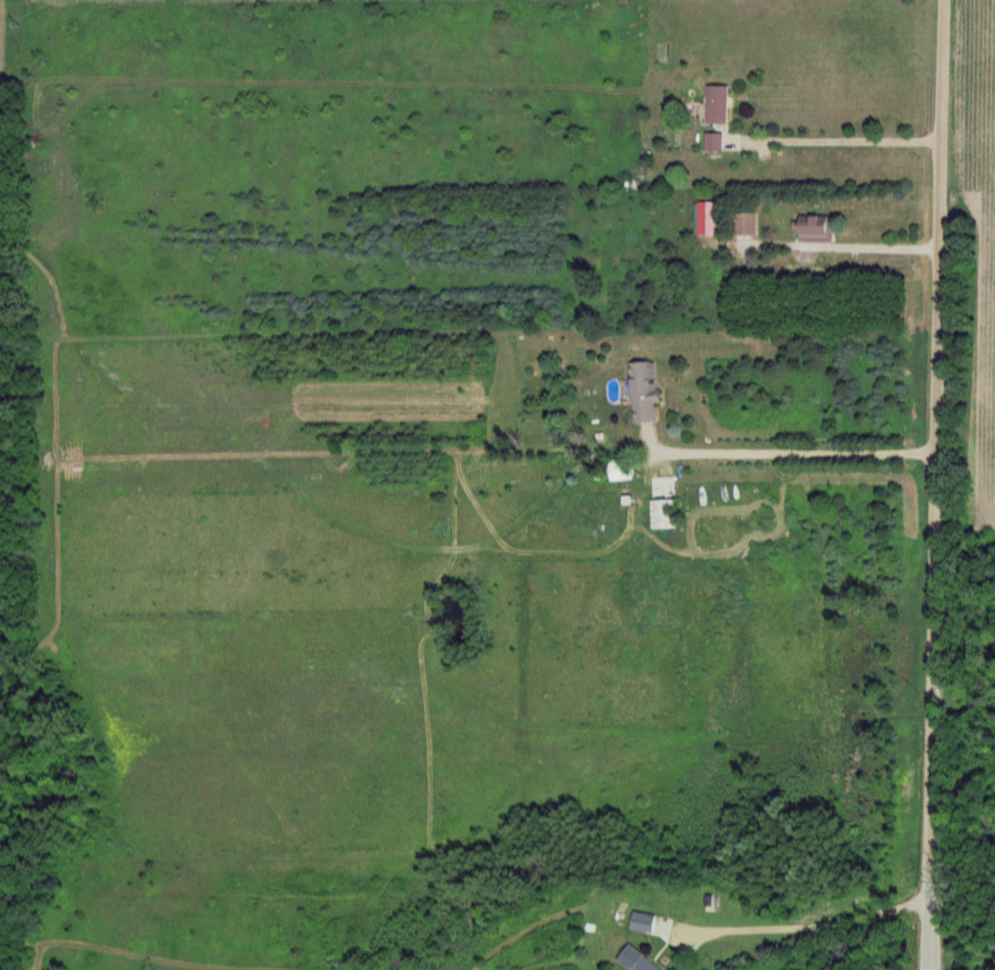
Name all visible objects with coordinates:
building: (721, 104)
road: (859, 135)
building: (715, 142)
building: (709, 218)
building: (748, 224)
building: (820, 228)
road: (855, 242)
building: (646, 392)
road: (798, 446)
building: (624, 469)
road: (930, 484)
building: (667, 513)
building: (645, 921)
road: (822, 923)
building: (641, 960)

